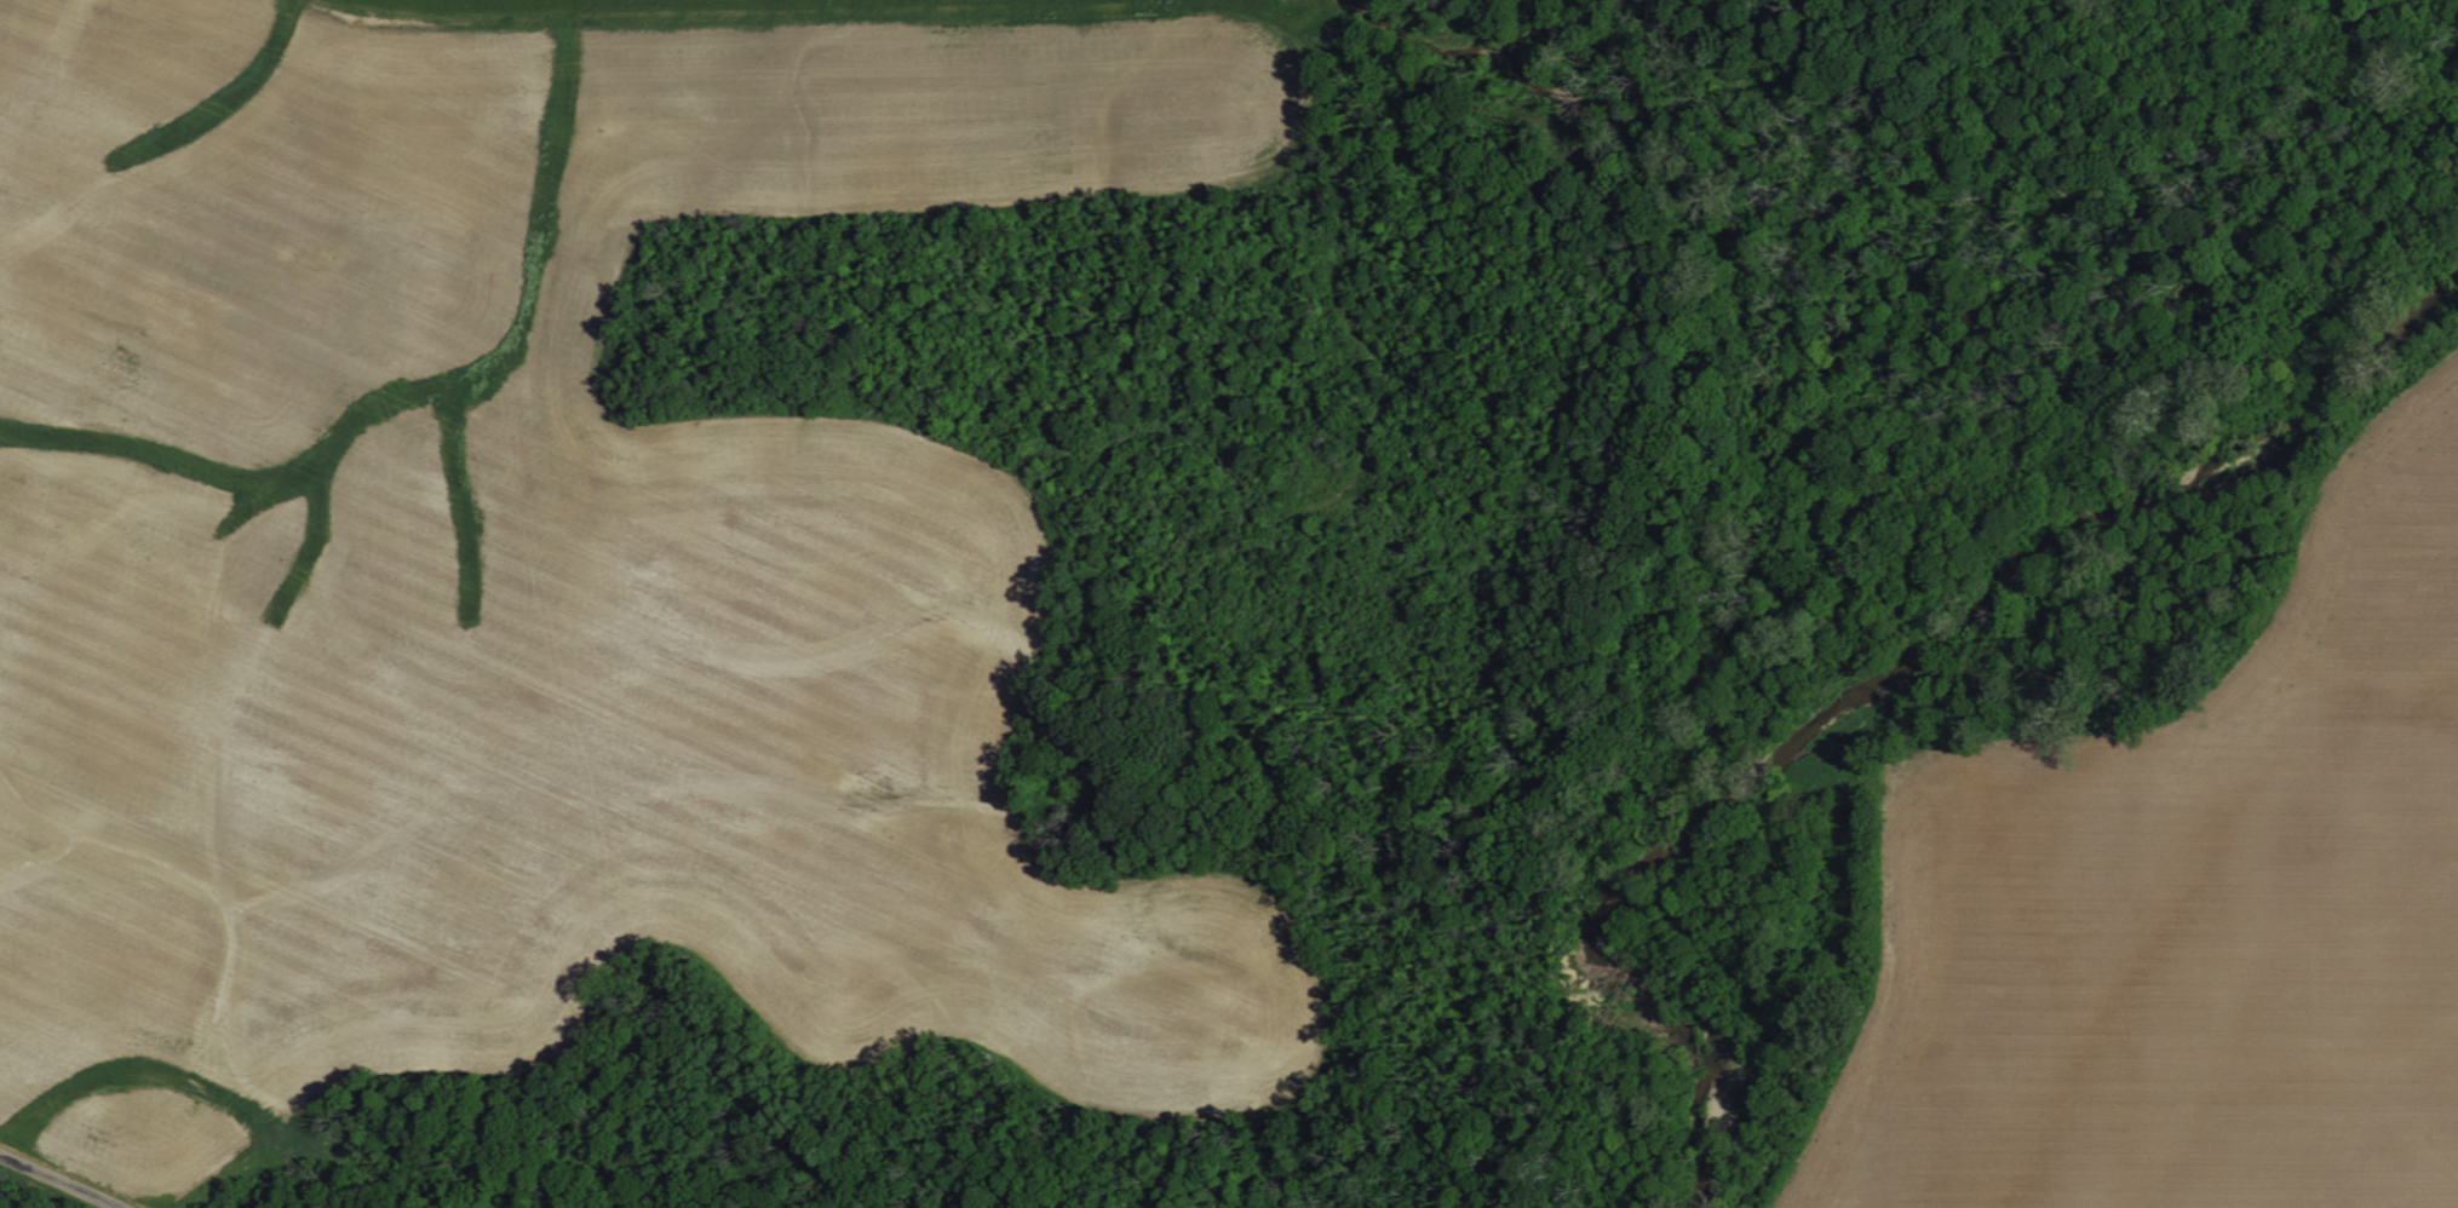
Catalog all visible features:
road: (58, 1180)

